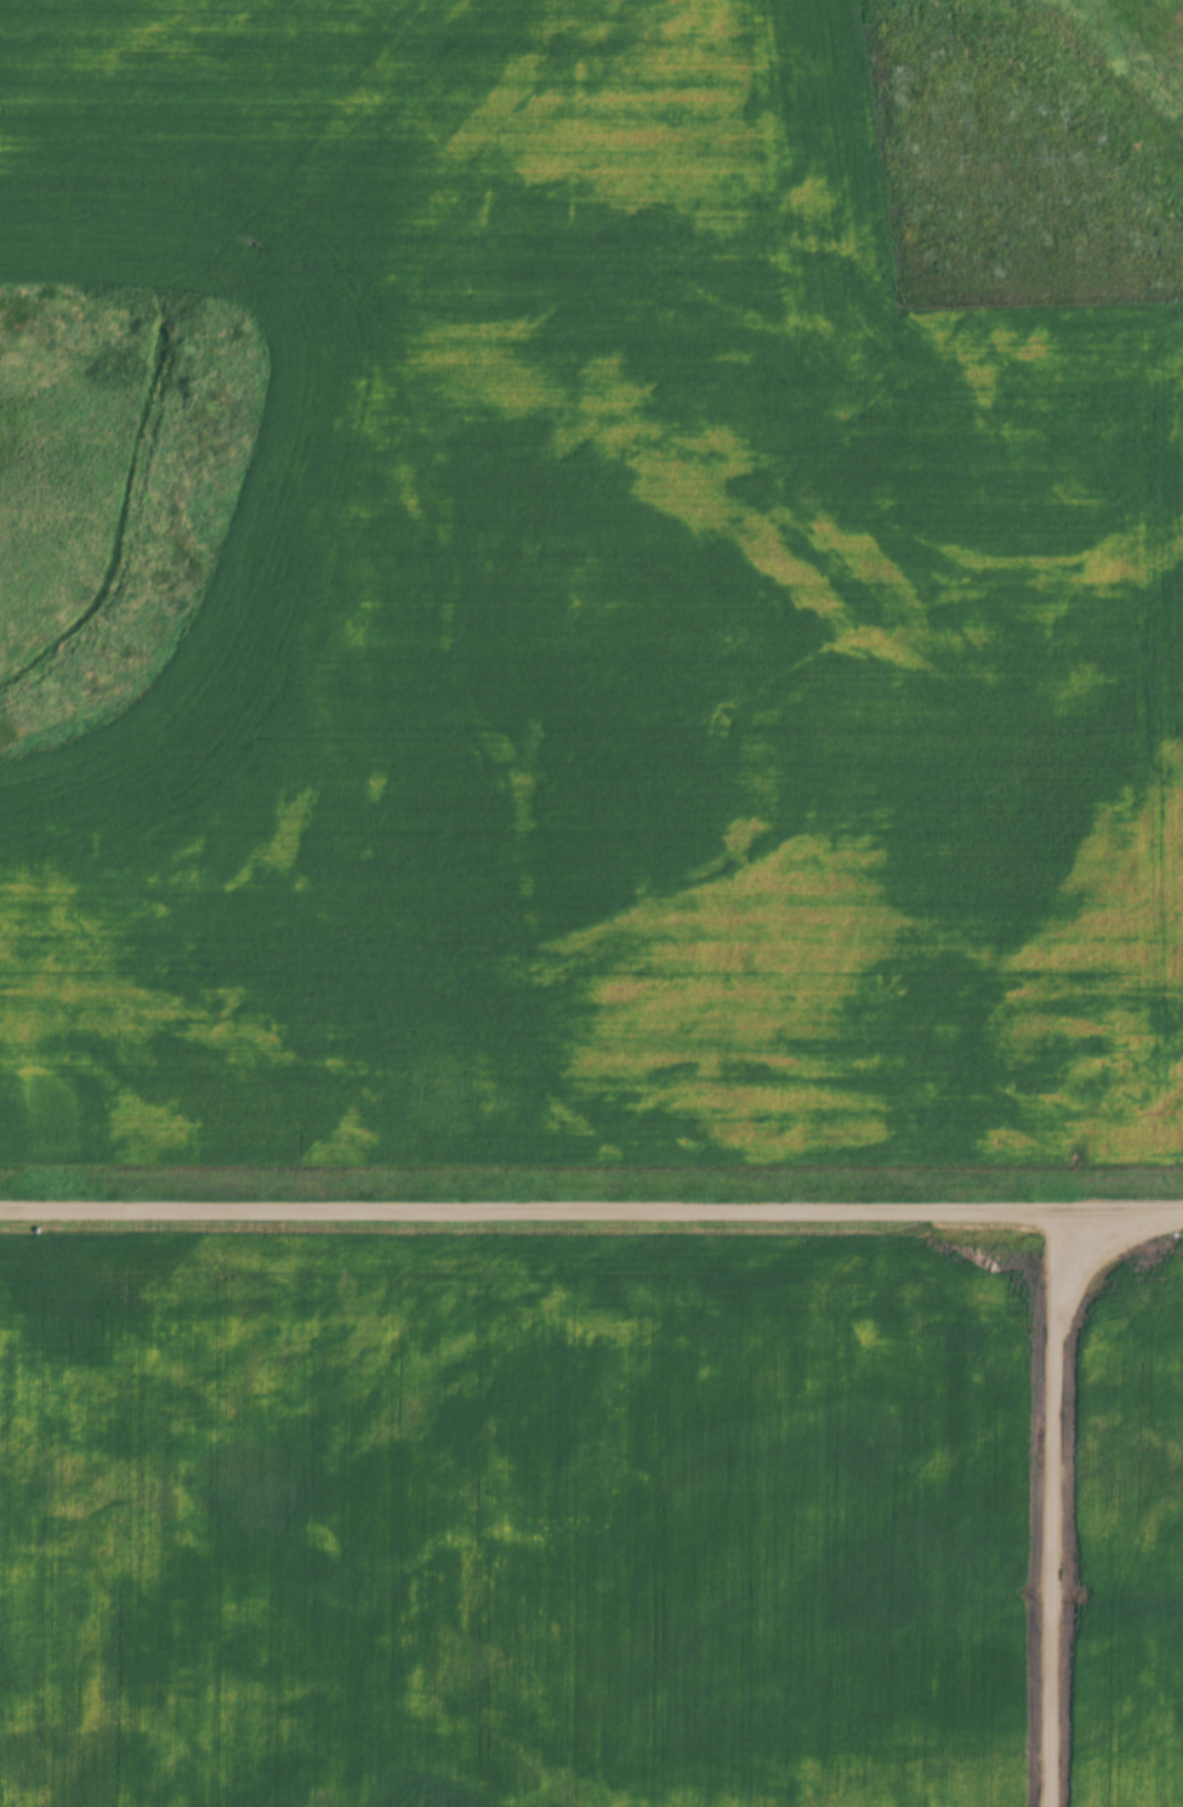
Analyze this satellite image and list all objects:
road: (591, 1210)

